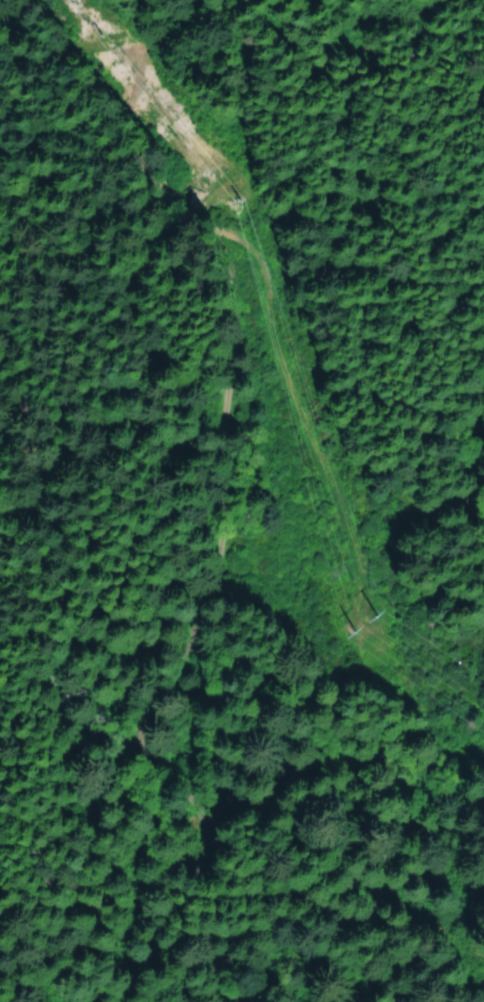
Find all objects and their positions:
power tower: (96, 29)
power tower: (236, 190)
road: (65, 264)
road: (217, 489)
park: (121, 494)
power tower: (365, 613)

